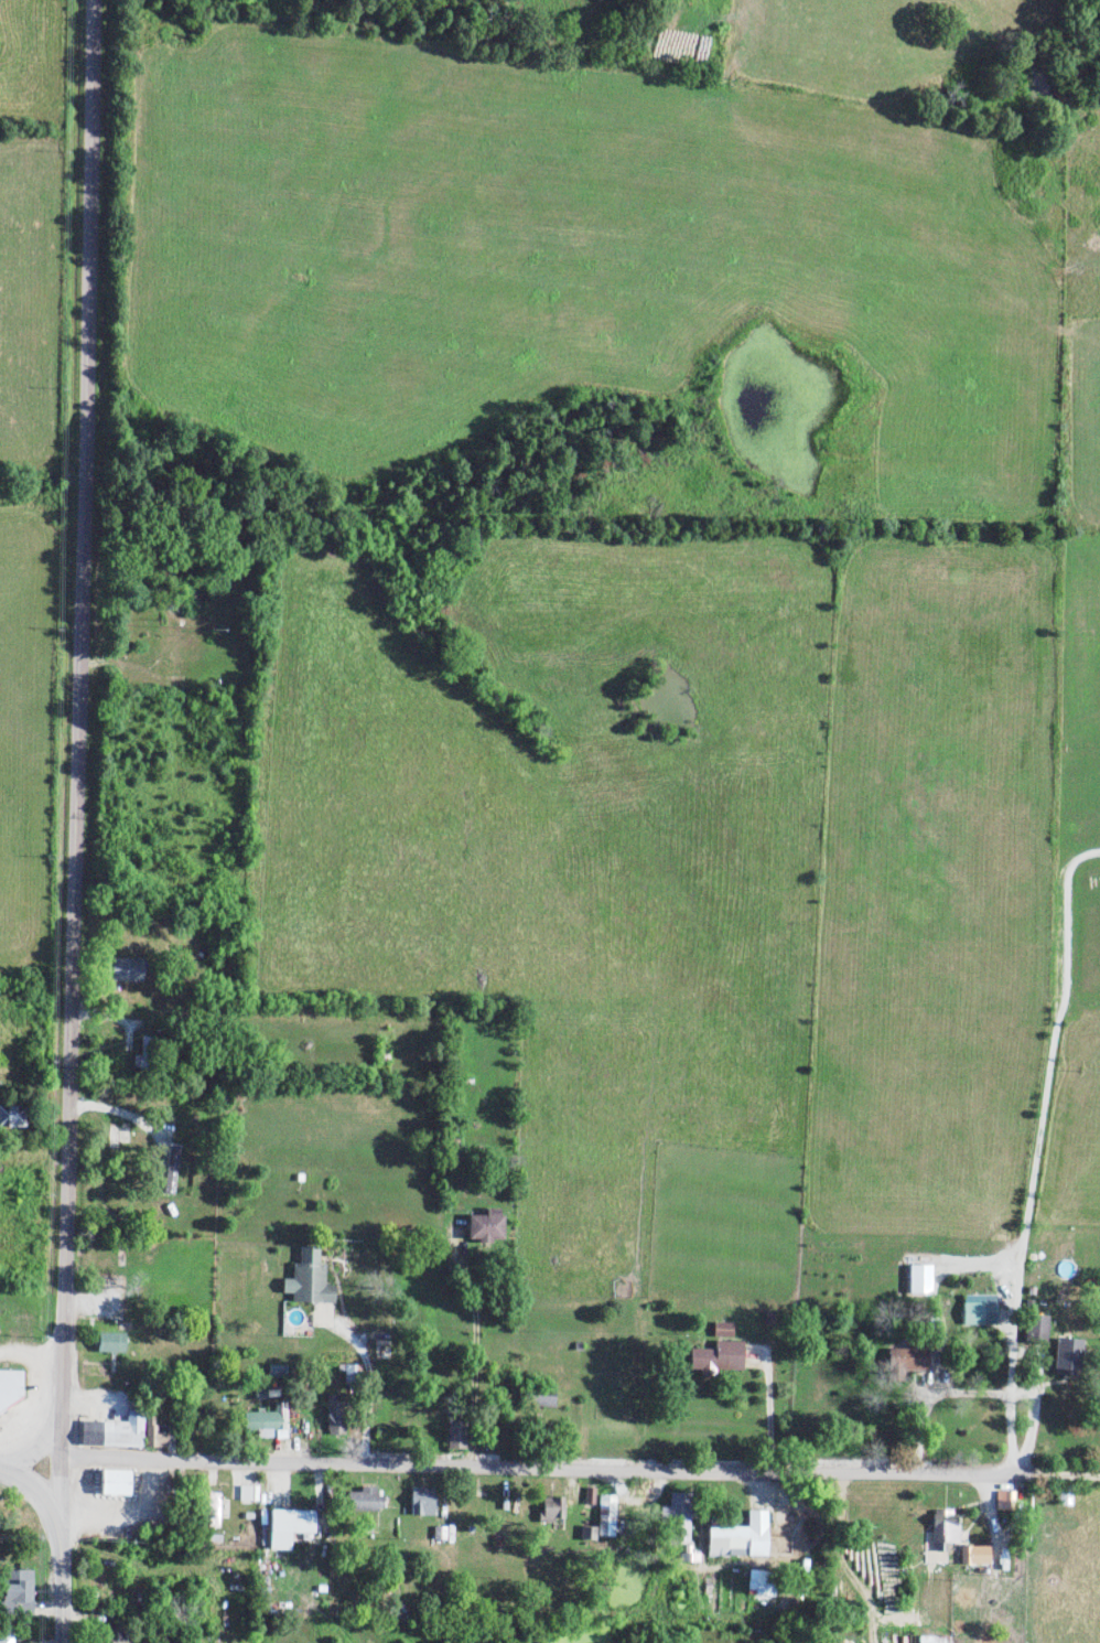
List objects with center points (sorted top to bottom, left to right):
road: (72, 738)
building: (126, 969)
road: (1035, 1156)
building: (486, 1226)
building: (308, 1279)
building: (920, 1279)
building: (978, 1310)
building: (1036, 1329)
building: (723, 1330)
building: (110, 1342)
building: (719, 1356)
building: (909, 1357)
building: (1066, 1357)
road: (474, 1360)
building: (10, 1388)
road: (367, 1388)
road: (925, 1397)
building: (539, 1398)
road: (770, 1410)
building: (334, 1420)
building: (268, 1421)
building: (114, 1431)
building: (155, 1435)
building: (456, 1437)
road: (576, 1478)
building: (115, 1482)
building: (248, 1493)
building: (590, 1496)
building: (365, 1500)
building: (1003, 1500)
building: (421, 1501)
building: (211, 1510)
building: (549, 1510)
building: (605, 1516)
building: (288, 1527)
building: (943, 1529)
road: (52, 1532)
building: (741, 1537)
building: (974, 1555)
building: (689, 1557)
building: (759, 1583)
building: (17, 1592)
building: (111, 1635)
building: (6, 1639)
building: (935, 1640)

